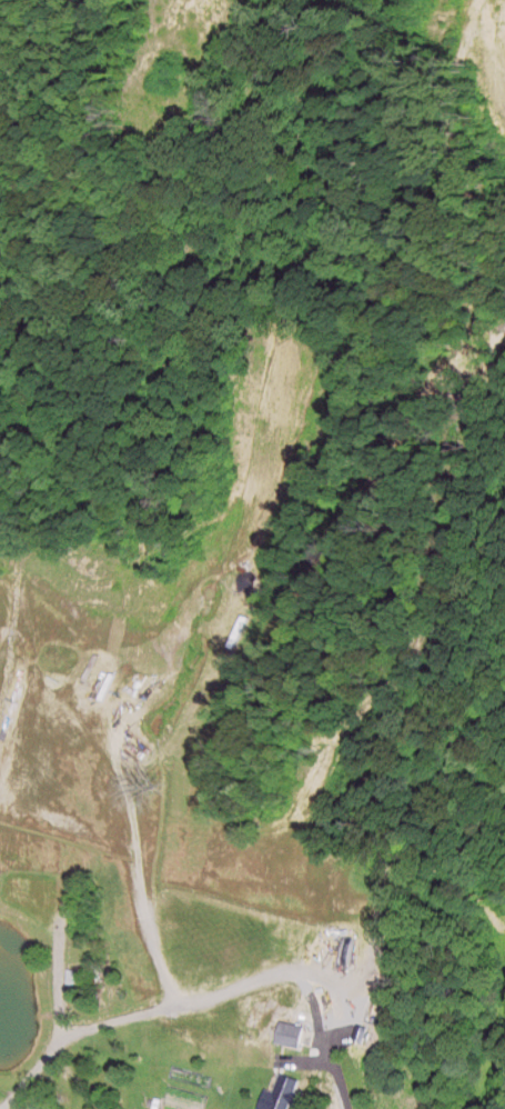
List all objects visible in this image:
road: (140, 875)
road: (250, 981)
road: (55, 1027)
building: (287, 1036)
building: (280, 1095)

